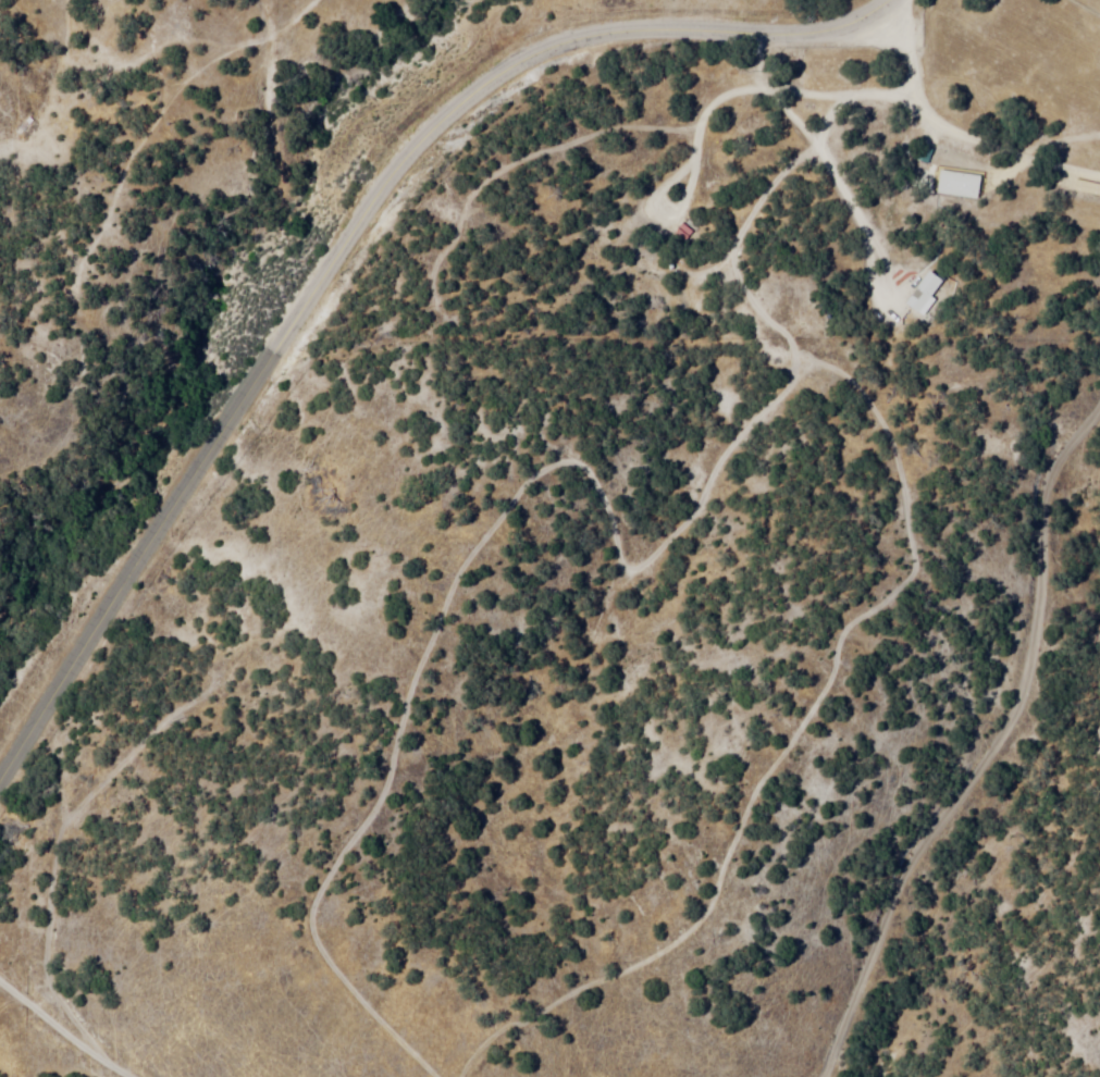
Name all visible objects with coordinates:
road: (528, 63)
building: (960, 183)
building: (1087, 186)
building: (924, 293)
road: (136, 553)
road: (994, 744)
road: (69, 1029)

